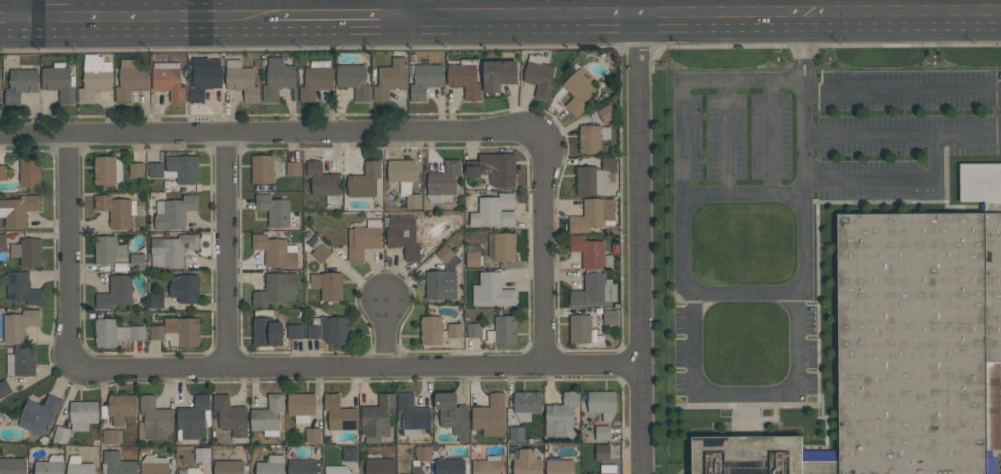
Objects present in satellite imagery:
road: (823, 5)
road: (942, 5)
road: (397, 6)
road: (615, 6)
road: (292, 7)
road: (24, 8)
road: (114, 8)
road: (972, 9)
road: (879, 10)
road: (930, 10)
road: (337, 13)
road: (620, 13)
road: (138, 15)
road: (803, 31)
road: (807, 67)
road: (795, 68)
building: (498, 74)
building: (538, 75)
building: (94, 77)
building: (464, 77)
building: (203, 78)
building: (277, 78)
building: (390, 78)
building: (130, 79)
building: (241, 79)
building: (315, 79)
building: (424, 79)
building: (168, 80)
building: (354, 80)
building: (0, 81)
building: (59, 81)
building: (20, 84)
building: (578, 89)
road: (900, 92)
building: (606, 113)
road: (803, 130)
road: (269, 133)
building: (592, 137)
road: (869, 137)
road: (770, 156)
road: (728, 158)
building: (182, 168)
building: (293, 168)
building: (493, 168)
building: (136, 169)
building: (262, 169)
building: (107, 170)
building: (155, 170)
building: (3, 172)
building: (29, 172)
building: (402, 173)
building: (594, 177)
building: (364, 180)
building: (442, 181)
building: (323, 182)
road: (706, 194)
building: (413, 201)
building: (18, 209)
building: (116, 209)
building: (274, 209)
building: (491, 209)
building: (173, 211)
building: (593, 215)
building: (507, 218)
building: (402, 235)
building: (363, 239)
building: (2, 240)
road: (640, 243)
building: (504, 247)
road: (72, 249)
building: (108, 249)
building: (171, 249)
road: (226, 249)
road: (542, 249)
building: (275, 250)
building: (27, 251)
building: (590, 251)
building: (321, 252)
building: (445, 253)
building: (473, 258)
building: (137, 261)
building: (442, 281)
building: (328, 284)
building: (20, 287)
building: (184, 287)
building: (277, 288)
building: (491, 290)
building: (594, 290)
building: (116, 292)
road: (747, 294)
building: (156, 300)
building: (610, 317)
building: (19, 325)
building: (579, 328)
building: (329, 329)
building: (431, 329)
building: (454, 330)
building: (473, 330)
building: (503, 330)
building: (182, 331)
building: (294, 331)
road: (386, 331)
building: (109, 332)
building: (137, 332)
building: (156, 332)
building: (267, 332)
building: (904, 347)
building: (20, 361)
road: (357, 365)
building: (4, 388)
road: (753, 397)
building: (601, 403)
building: (526, 404)
building: (301, 406)
building: (121, 408)
building: (339, 413)
building: (39, 414)
building: (83, 414)
building: (412, 414)
building: (452, 414)
building: (268, 415)
building: (490, 416)
building: (561, 416)
building: (193, 417)
building: (231, 417)
building: (377, 418)
building: (154, 419)
building: (602, 432)
building: (62, 433)
building: (516, 433)
building: (312, 435)
building: (111, 436)
building: (602, 452)
building: (349, 453)
building: (423, 453)
building: (201, 454)
building: (527, 462)
building: (116, 464)
building: (49, 465)
building: (153, 465)
building: (271, 465)
building: (379, 465)
building: (13, 466)
building: (79, 466)
building: (303, 466)
building: (449, 466)
building: (487, 466)
building: (560, 466)
building: (228, 467)
building: (336, 469)
building: (417, 469)
building: (607, 469)
building: (194, 470)

